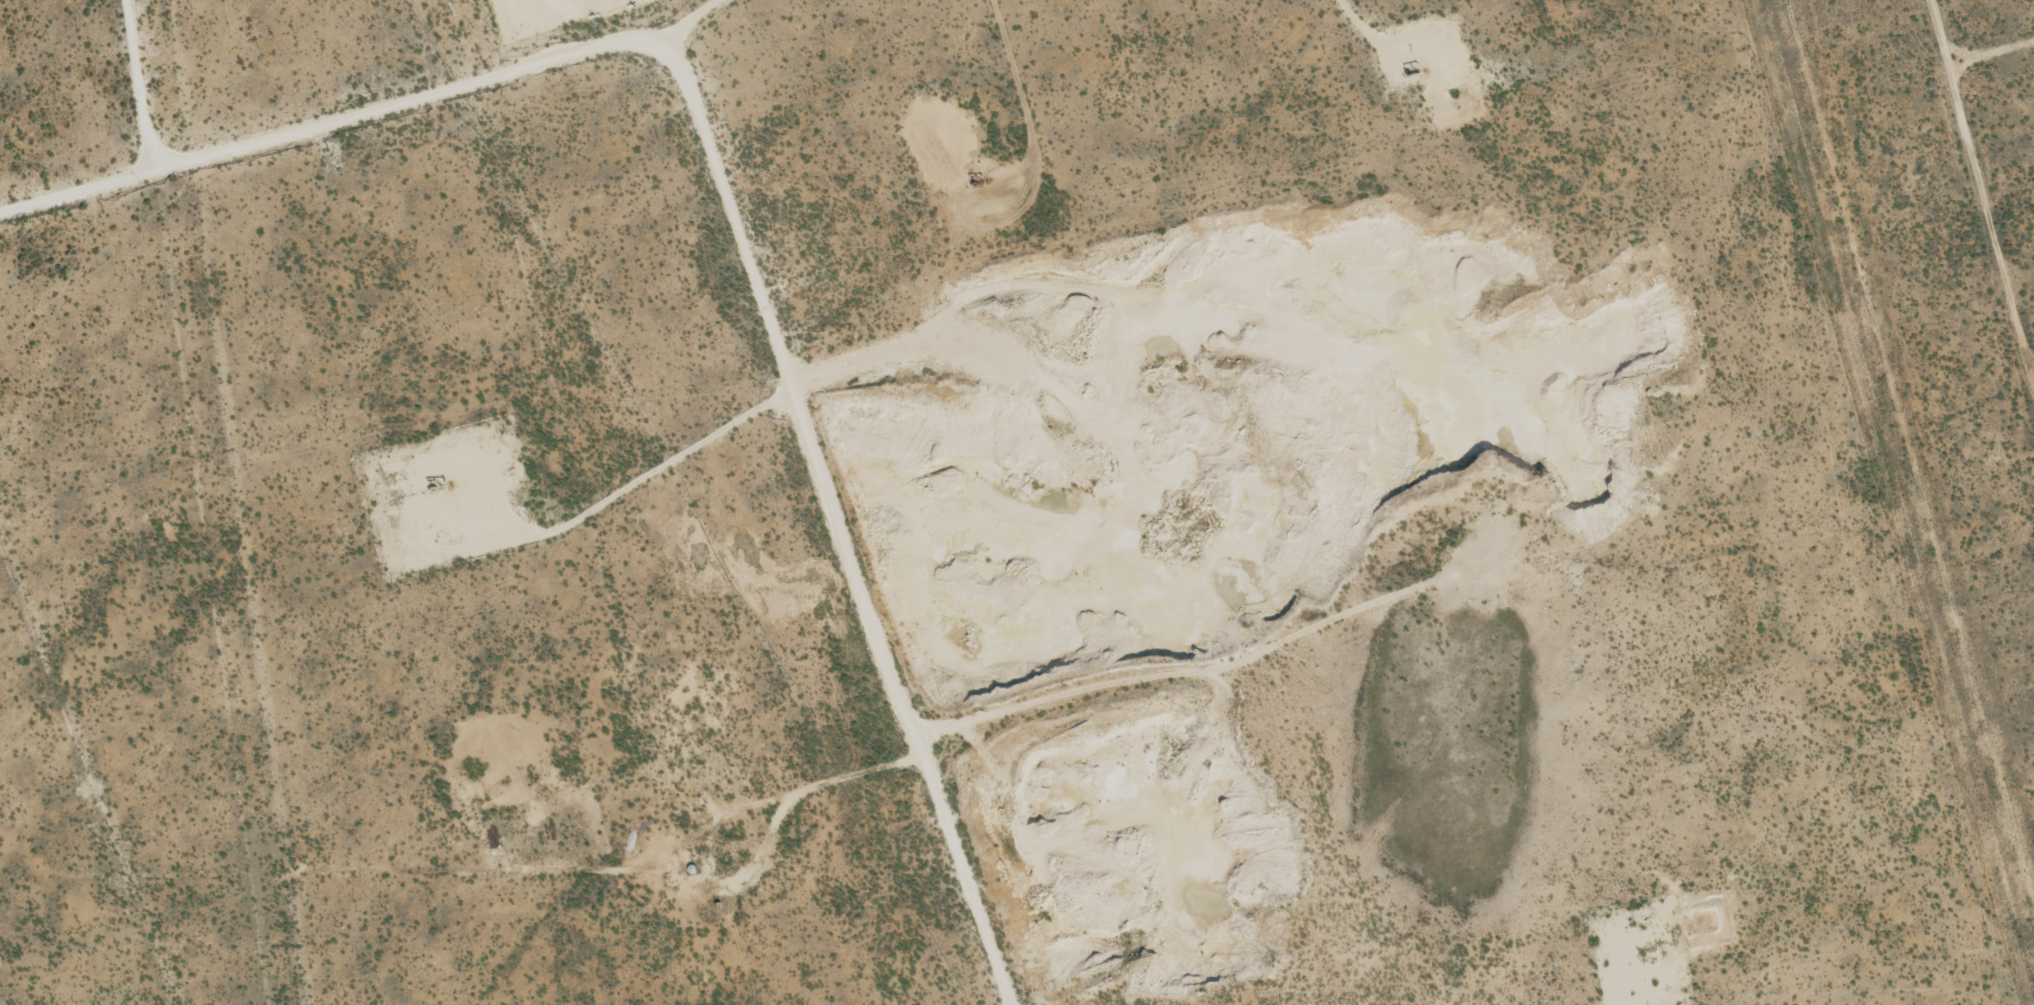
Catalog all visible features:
road: (2006, 102)
road: (737, 193)
petroleum well: (437, 488)

